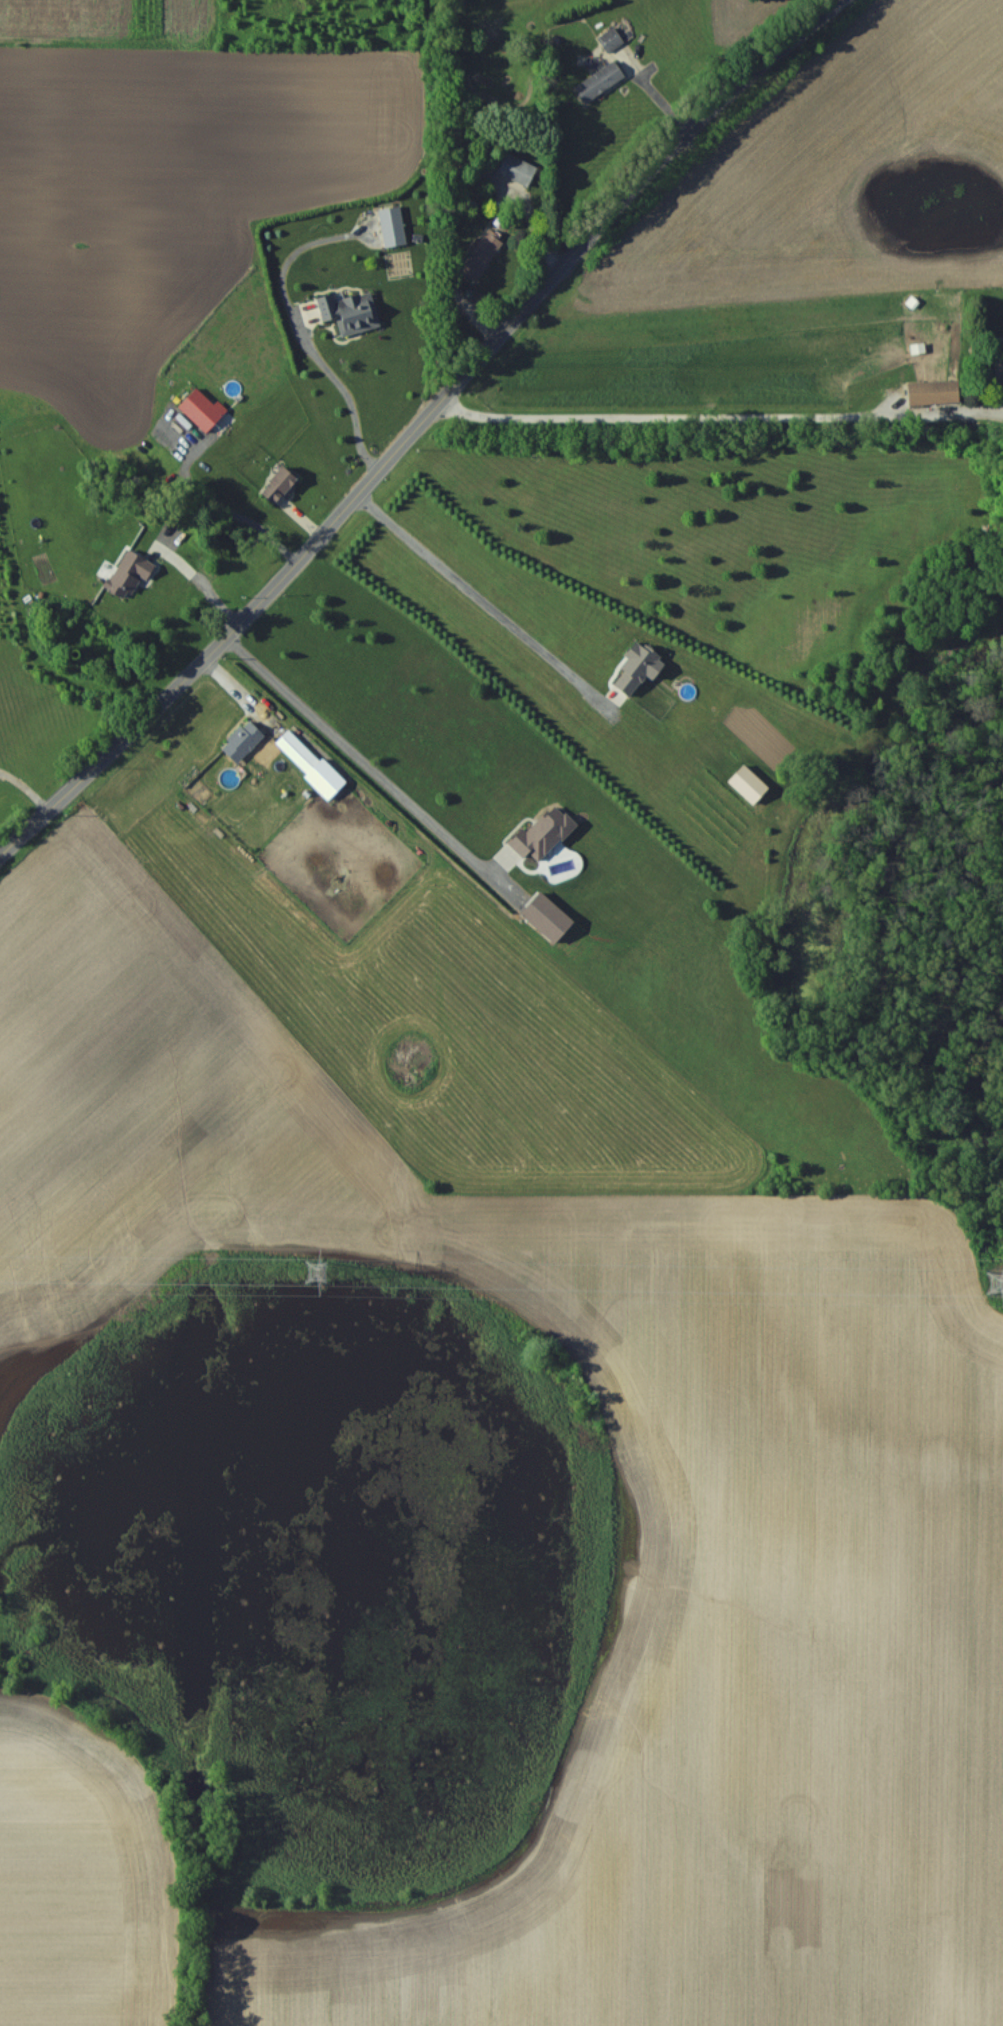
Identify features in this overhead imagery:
building: (610, 40)
building: (600, 83)
building: (517, 171)
building: (392, 228)
building: (481, 256)
building: (350, 313)
road: (346, 391)
building: (933, 393)
building: (202, 410)
road: (720, 414)
road: (419, 426)
building: (279, 487)
road: (207, 581)
road: (482, 601)
building: (636, 669)
building: (242, 741)
road: (362, 748)
building: (297, 752)
power tower: (318, 1271)
power tower: (1000, 1283)

